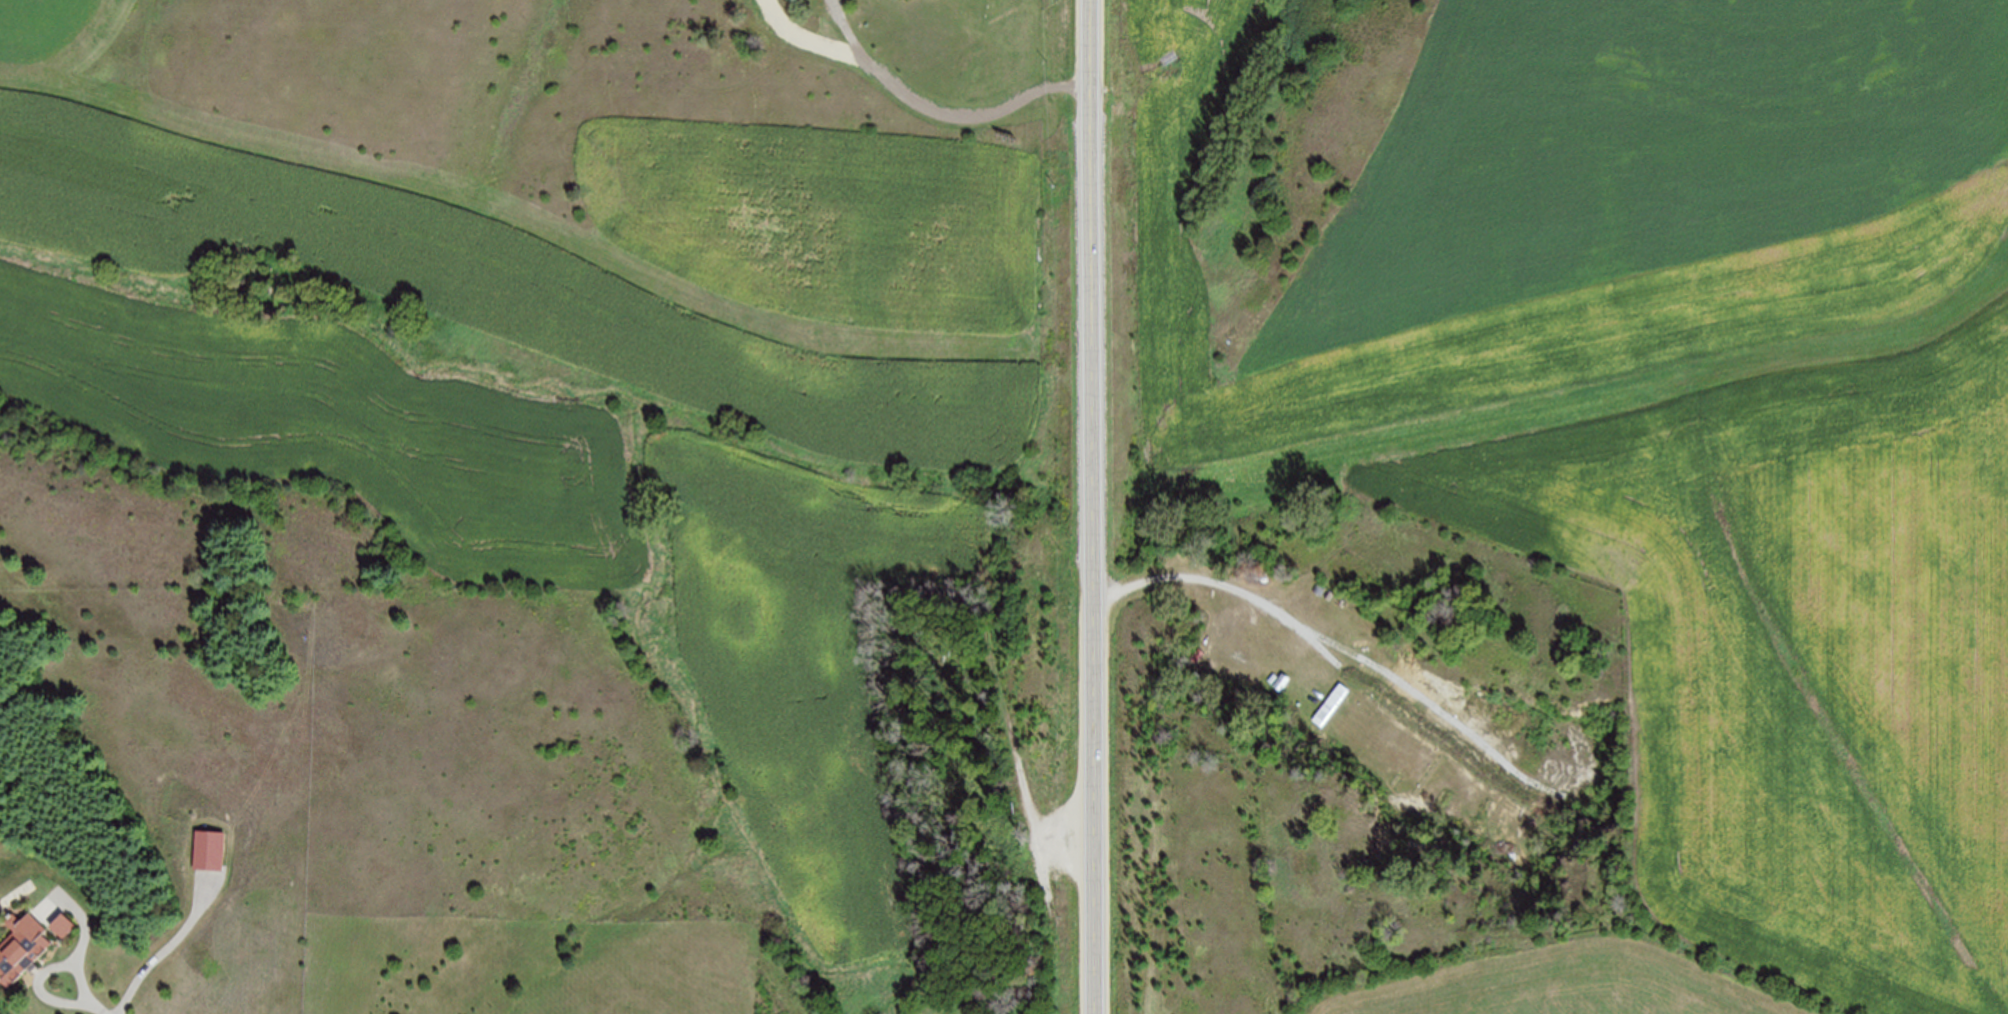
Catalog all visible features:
road: (938, 113)
road: (1096, 506)
road: (1296, 624)
building: (1360, 643)
building: (1332, 705)
road: (85, 916)
building: (62, 925)
building: (22, 945)
road: (44, 973)
road: (102, 1008)

